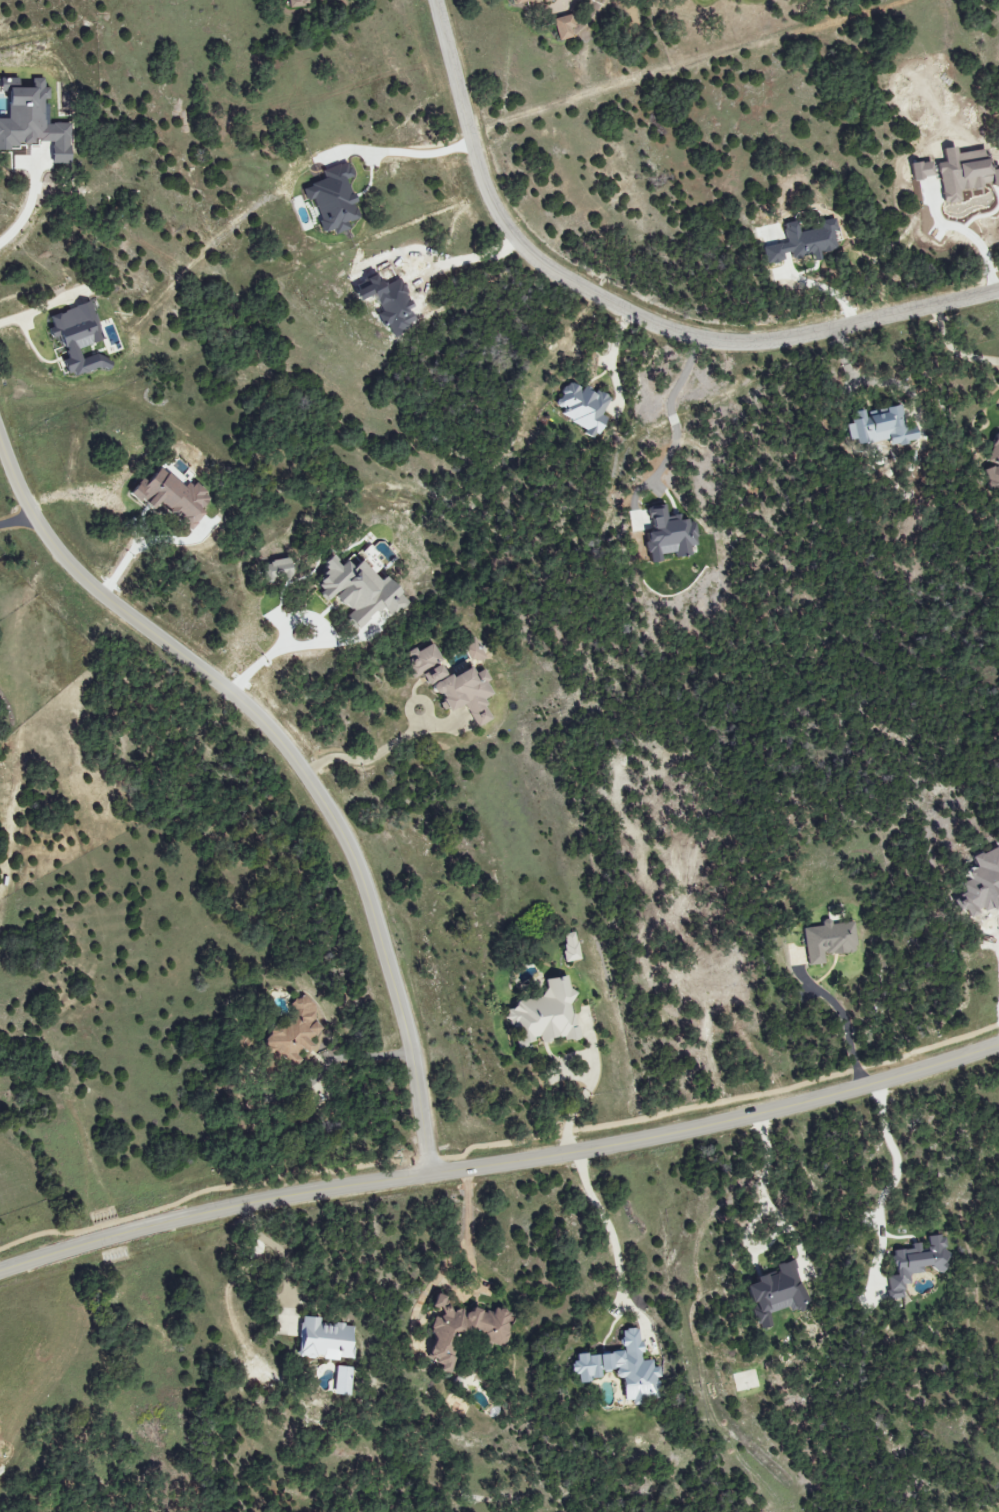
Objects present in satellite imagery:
building: (522, 0)
building: (545, 0)
building: (297, 3)
building: (564, 27)
building: (33, 120)
road: (412, 151)
building: (923, 170)
building: (965, 173)
building: (334, 199)
road: (25, 211)
building: (804, 242)
road: (623, 311)
building: (78, 338)
road: (953, 350)
road: (857, 380)
building: (584, 408)
road: (677, 415)
building: (881, 427)
building: (994, 465)
road: (66, 492)
building: (173, 496)
road: (14, 519)
building: (670, 535)
building: (277, 569)
building: (360, 589)
road: (275, 647)
building: (473, 650)
building: (422, 659)
building: (462, 690)
road: (366, 756)
road: (292, 763)
building: (829, 940)
building: (571, 947)
building: (547, 1015)
road: (843, 1025)
building: (296, 1031)
road: (578, 1098)
road: (895, 1158)
road: (501, 1165)
road: (765, 1183)
road: (617, 1247)
road: (278, 1256)
building: (918, 1263)
road: (452, 1264)
building: (776, 1294)
building: (464, 1330)
building: (325, 1340)
building: (623, 1368)
building: (343, 1381)

